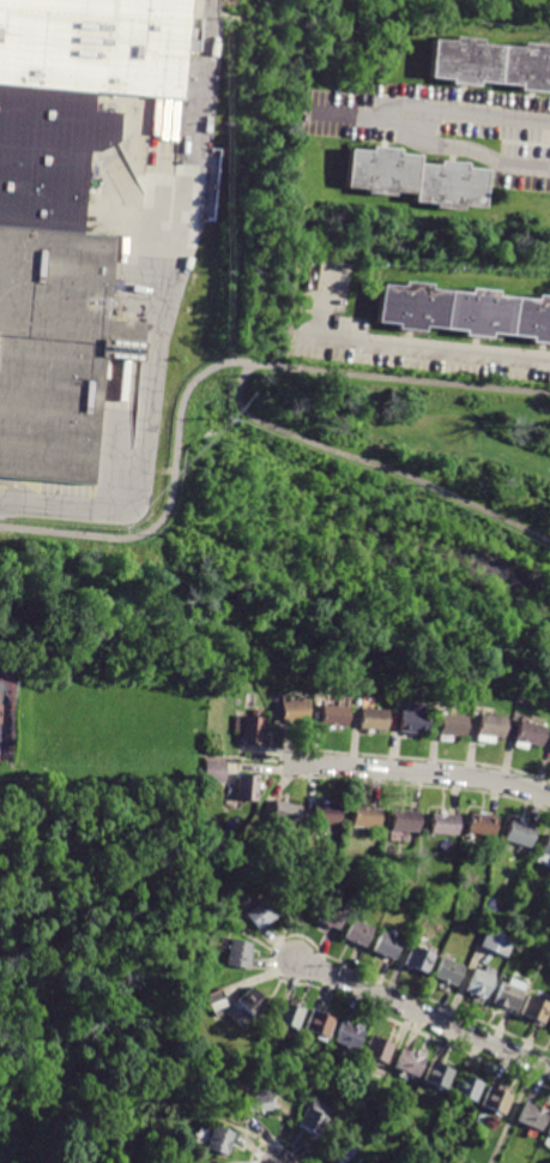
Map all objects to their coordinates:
building: (93, 44)
building: (491, 78)
road: (198, 82)
road: (473, 114)
road: (434, 143)
building: (48, 152)
building: (416, 191)
road: (186, 210)
road: (326, 304)
building: (465, 320)
building: (55, 348)
road: (436, 353)
road: (242, 402)
park: (416, 432)
road: (144, 448)
road: (18, 490)
road: (171, 504)
building: (319, 695)
building: (521, 699)
building: (358, 703)
building: (297, 711)
building: (336, 717)
building: (416, 720)
building: (376, 721)
building: (453, 727)
building: (250, 730)
building: (491, 730)
building: (532, 736)
building: (549, 750)
road: (298, 757)
road: (428, 760)
road: (297, 769)
building: (217, 772)
road: (423, 774)
road: (427, 785)
building: (249, 789)
road: (170, 809)
building: (289, 815)
building: (328, 815)
building: (368, 819)
building: (407, 822)
building: (446, 826)
building: (484, 827)
building: (522, 835)
building: (545, 857)
building: (266, 915)
building: (332, 916)
road: (283, 927)
building: (482, 927)
building: (361, 934)
building: (500, 943)
road: (283, 946)
building: (388, 946)
building: (521, 948)
building: (242, 954)
road: (260, 954)
road: (272, 955)
building: (421, 960)
road: (276, 963)
building: (448, 972)
building: (481, 984)
building: (509, 994)
building: (219, 1001)
building: (254, 1002)
building: (537, 1012)
road: (425, 1015)
building: (292, 1018)
building: (321, 1027)
building: (549, 1027)
building: (349, 1037)
building: (380, 1050)
building: (411, 1063)
building: (441, 1077)
building: (470, 1090)
building: (497, 1102)
building: (262, 1103)
road: (513, 1113)
building: (319, 1117)
building: (533, 1117)
building: (549, 1134)
road: (278, 1140)
building: (223, 1141)
building: (345, 1151)
building: (363, 1162)

